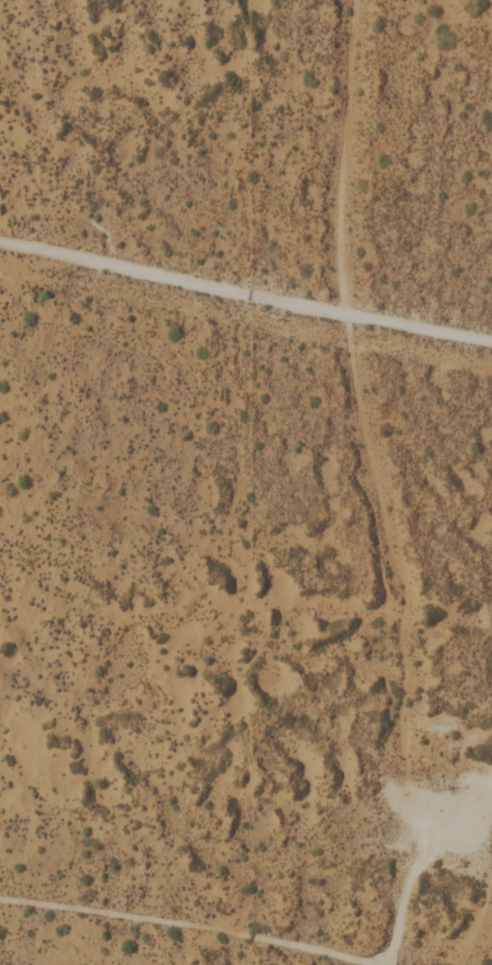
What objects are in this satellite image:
road: (246, 295)
road: (417, 862)
road: (182, 929)

